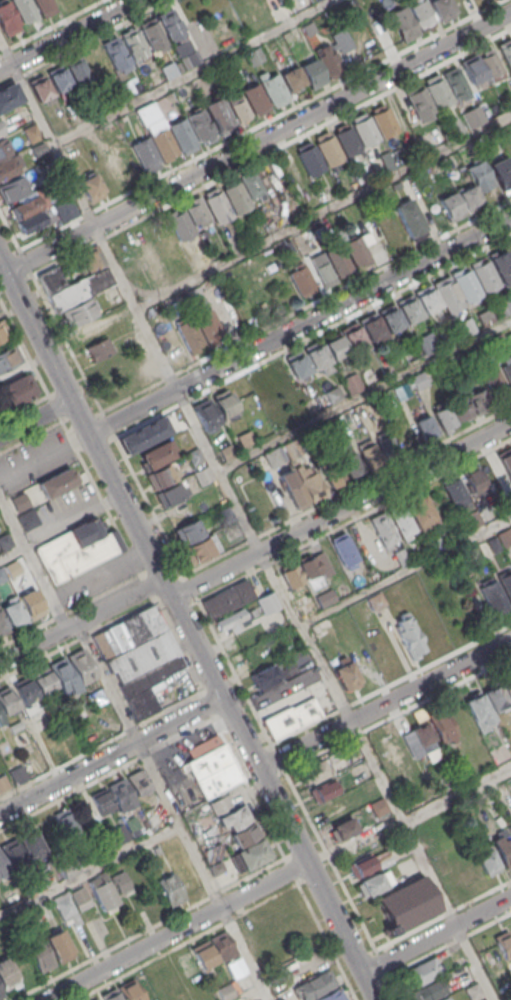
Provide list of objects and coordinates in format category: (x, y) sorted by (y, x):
building: (315, 0)
building: (250, 2)
building: (44, 6)
building: (24, 9)
building: (441, 9)
building: (420, 14)
building: (7, 19)
building: (402, 23)
road: (50, 25)
building: (170, 25)
road: (67, 34)
building: (151, 34)
road: (82, 42)
building: (133, 43)
building: (506, 51)
building: (114, 52)
building: (185, 55)
building: (255, 56)
building: (329, 61)
building: (492, 65)
building: (473, 69)
building: (77, 70)
road: (190, 71)
building: (312, 73)
building: (214, 76)
building: (291, 77)
building: (58, 79)
building: (455, 83)
building: (40, 88)
building: (273, 89)
building: (437, 90)
building: (8, 96)
building: (509, 96)
building: (255, 97)
building: (420, 101)
building: (237, 106)
building: (217, 113)
building: (382, 120)
building: (199, 124)
building: (454, 126)
building: (364, 129)
building: (1, 131)
building: (32, 133)
building: (181, 134)
building: (346, 139)
building: (487, 140)
road: (258, 142)
building: (163, 143)
building: (4, 148)
building: (328, 148)
building: (145, 152)
building: (309, 157)
building: (10, 167)
building: (501, 172)
building: (480, 175)
building: (250, 184)
building: (395, 185)
building: (91, 187)
building: (12, 188)
building: (236, 197)
building: (468, 197)
building: (24, 206)
building: (217, 206)
building: (449, 206)
road: (323, 209)
building: (197, 213)
building: (408, 218)
building: (30, 222)
building: (181, 225)
building: (355, 250)
building: (92, 258)
building: (199, 258)
building: (338, 260)
building: (501, 266)
building: (323, 271)
building: (484, 276)
building: (300, 279)
building: (51, 280)
building: (233, 281)
building: (467, 285)
building: (79, 289)
building: (448, 294)
building: (426, 299)
building: (501, 306)
building: (409, 309)
building: (79, 313)
building: (391, 317)
building: (485, 317)
building: (468, 324)
building: (208, 325)
road: (300, 326)
building: (372, 327)
building: (3, 331)
building: (448, 333)
building: (190, 334)
building: (354, 337)
building: (499, 341)
building: (427, 342)
building: (172, 345)
building: (336, 347)
building: (99, 349)
building: (8, 358)
building: (318, 360)
building: (300, 369)
building: (507, 370)
building: (150, 371)
building: (418, 380)
building: (352, 382)
building: (495, 384)
building: (19, 390)
building: (401, 390)
building: (333, 394)
road: (364, 394)
building: (479, 401)
building: (226, 405)
building: (460, 408)
building: (206, 415)
road: (35, 418)
building: (442, 418)
building: (424, 426)
building: (143, 435)
building: (406, 435)
building: (244, 438)
building: (389, 444)
building: (226, 451)
building: (369, 453)
building: (157, 454)
building: (194, 456)
building: (506, 461)
building: (351, 464)
building: (333, 474)
building: (203, 475)
building: (161, 476)
building: (55, 482)
building: (473, 483)
building: (313, 487)
building: (295, 492)
building: (454, 492)
building: (171, 493)
building: (19, 501)
building: (419, 510)
building: (225, 516)
road: (343, 517)
building: (28, 518)
building: (400, 520)
road: (71, 521)
road: (245, 522)
building: (384, 529)
building: (188, 532)
building: (505, 537)
building: (5, 540)
building: (493, 544)
building: (344, 548)
building: (200, 549)
road: (11, 550)
building: (77, 550)
building: (401, 556)
road: (32, 563)
building: (450, 565)
building: (309, 566)
road: (404, 569)
building: (1, 575)
building: (291, 575)
building: (506, 583)
building: (493, 596)
building: (227, 599)
building: (269, 601)
building: (376, 601)
building: (32, 604)
building: (305, 604)
road: (136, 608)
building: (14, 613)
road: (80, 618)
building: (231, 620)
building: (2, 625)
road: (187, 630)
building: (321, 630)
building: (127, 632)
building: (410, 635)
building: (303, 661)
building: (81, 666)
building: (143, 670)
building: (344, 672)
building: (264, 675)
building: (62, 676)
building: (43, 683)
building: (507, 688)
building: (26, 691)
building: (97, 698)
building: (495, 698)
building: (7, 701)
road: (384, 703)
building: (479, 712)
building: (39, 715)
building: (82, 716)
building: (292, 718)
building: (1, 719)
building: (440, 726)
building: (14, 727)
building: (423, 737)
building: (510, 745)
road: (110, 755)
building: (212, 771)
building: (313, 771)
building: (17, 774)
road: (106, 774)
building: (3, 782)
building: (138, 782)
building: (322, 792)
building: (120, 794)
road: (457, 794)
building: (102, 803)
building: (220, 805)
building: (377, 807)
road: (171, 810)
building: (333, 810)
building: (234, 818)
building: (65, 821)
building: (343, 829)
building: (510, 833)
building: (119, 834)
building: (244, 835)
building: (31, 844)
building: (397, 844)
building: (503, 849)
building: (155, 850)
building: (14, 854)
building: (252, 854)
building: (81, 857)
building: (487, 862)
building: (66, 865)
building: (3, 867)
building: (361, 867)
building: (216, 868)
road: (89, 871)
building: (120, 881)
building: (370, 884)
building: (26, 887)
building: (170, 890)
building: (101, 891)
road: (217, 891)
building: (80, 898)
building: (404, 904)
building: (66, 908)
road: (175, 930)
road: (436, 934)
building: (503, 943)
building: (59, 945)
building: (222, 945)
building: (39, 954)
building: (203, 954)
building: (6, 973)
building: (420, 973)
building: (314, 985)
building: (130, 991)
building: (428, 991)
building: (225, 992)
building: (473, 992)
road: (251, 994)
building: (0, 995)
building: (331, 995)
building: (111, 996)
building: (445, 998)
building: (96, 999)

